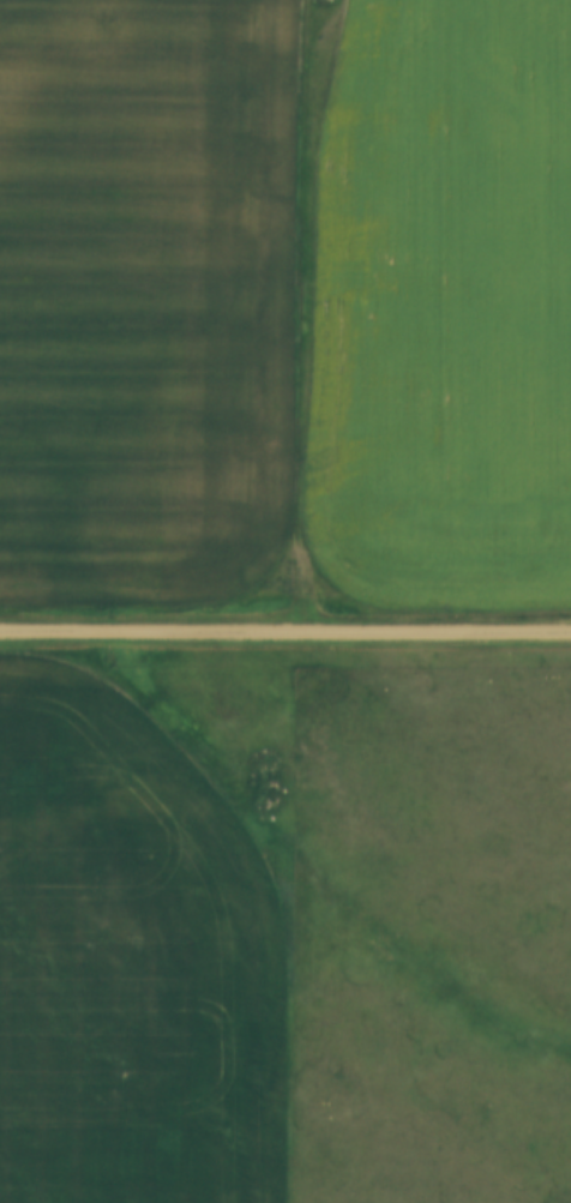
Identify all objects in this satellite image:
road: (284, 633)

